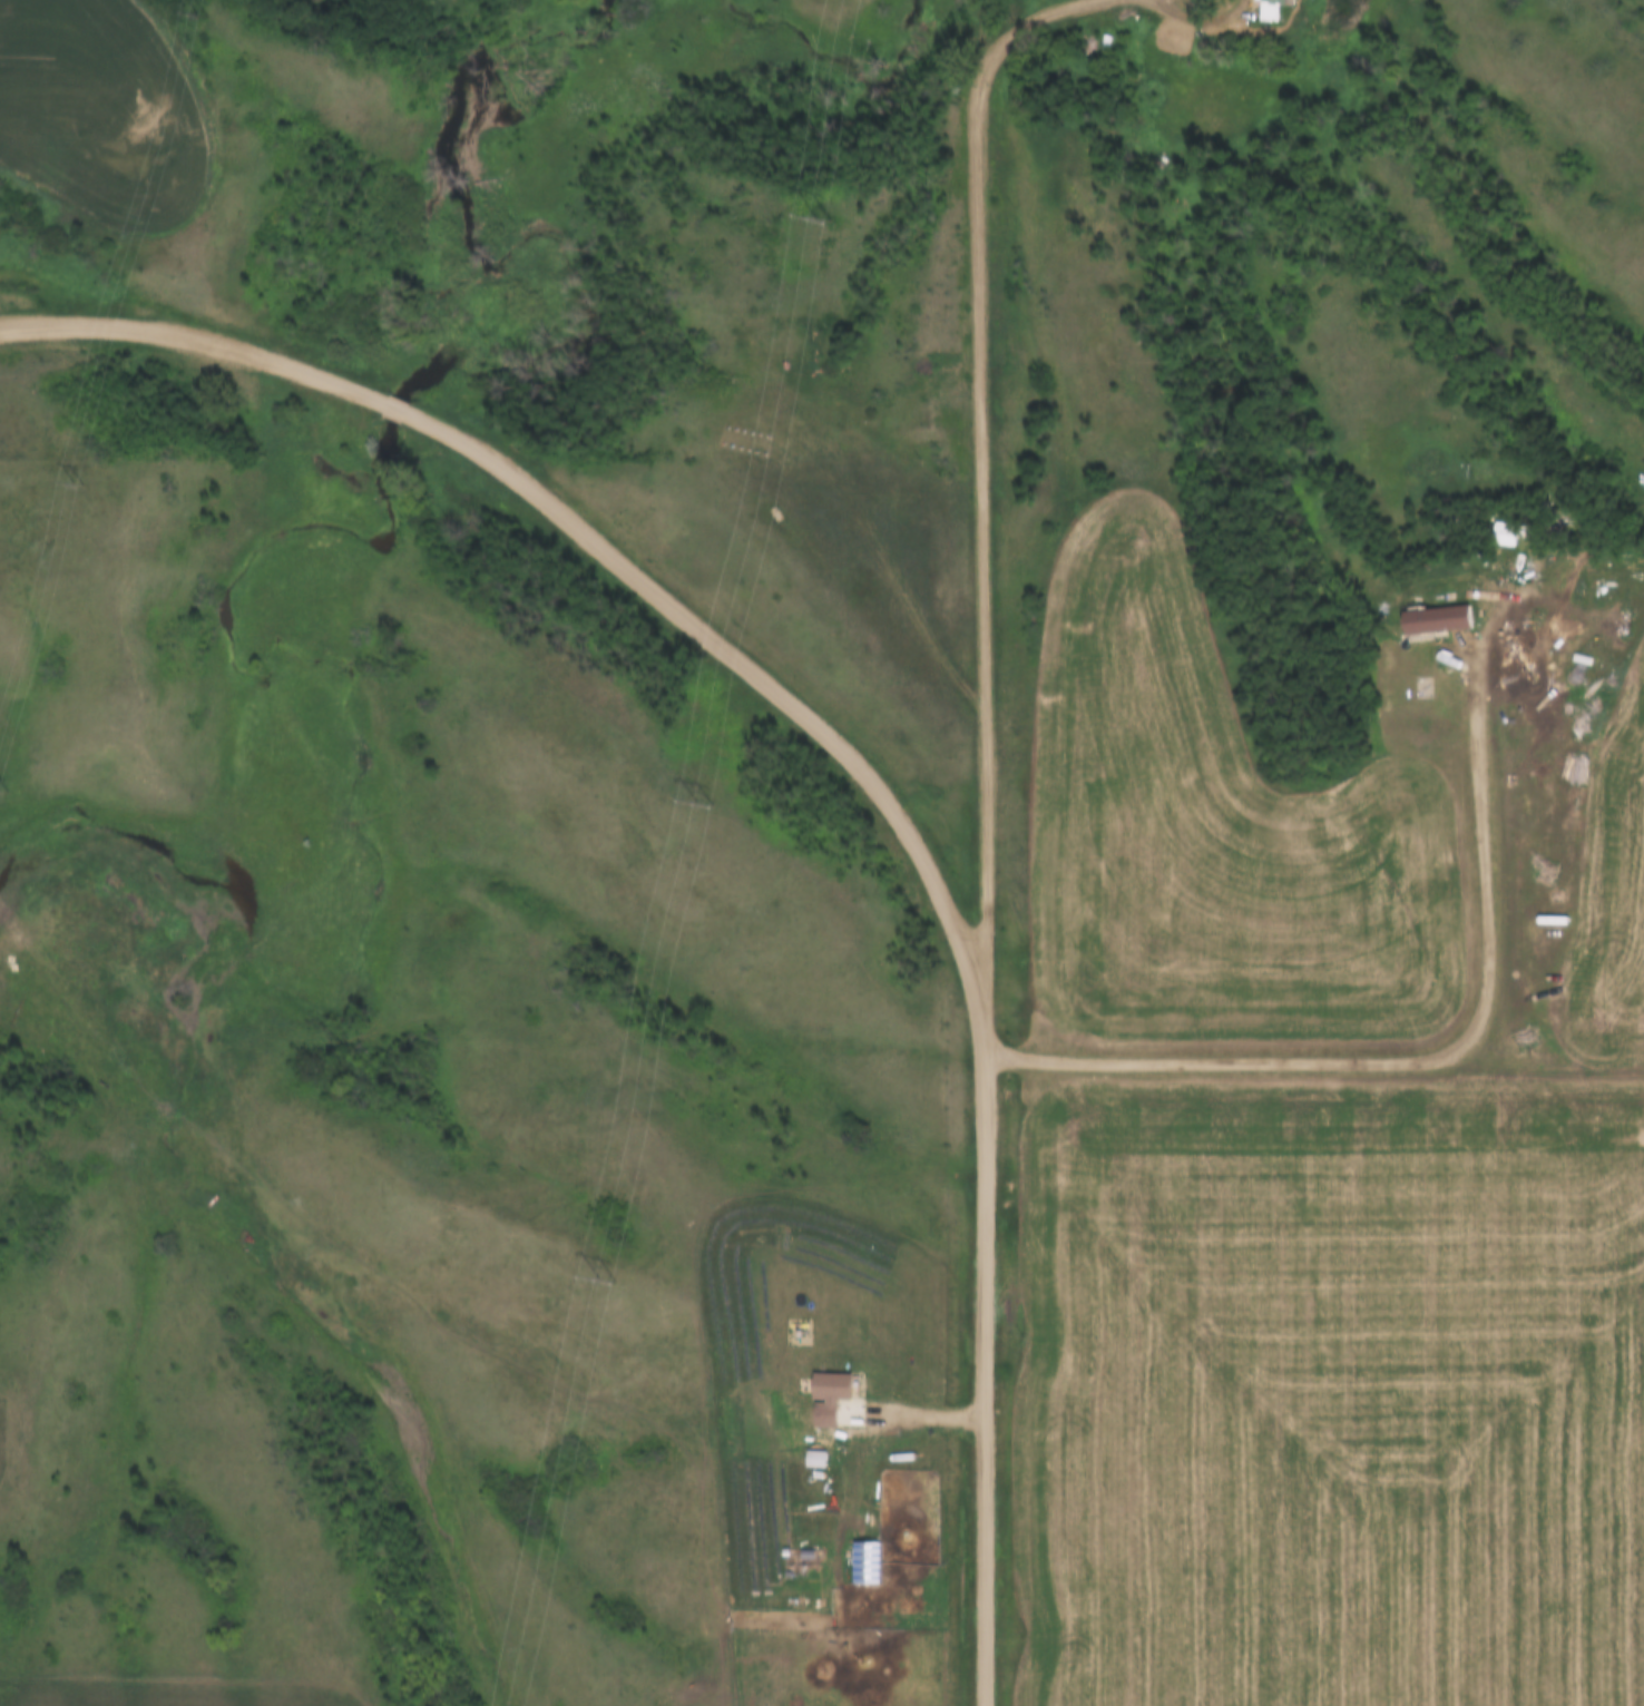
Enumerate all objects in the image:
building: (1273, 10)
road: (1200, 12)
building: (1086, 42)
road: (982, 483)
building: (1498, 530)
road: (588, 532)
road: (878, 546)
road: (1462, 805)
road: (1205, 1062)
road: (1536, 1069)
road: (985, 1361)

